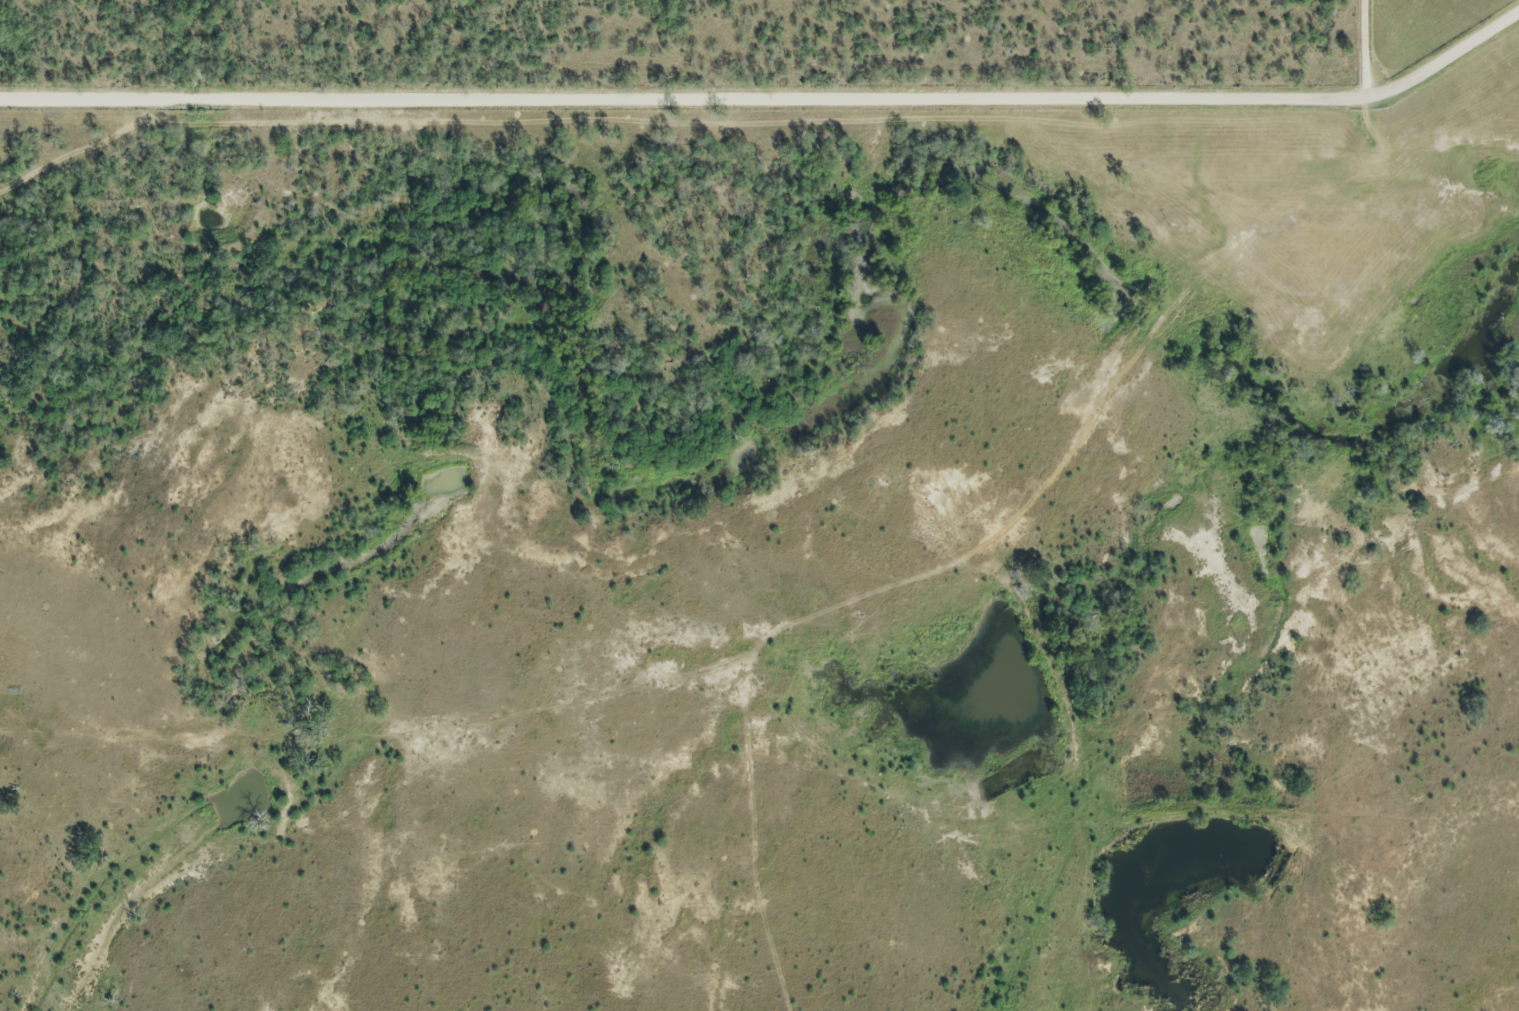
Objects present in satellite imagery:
road: (1494, 31)
road: (1362, 50)
road: (740, 100)

